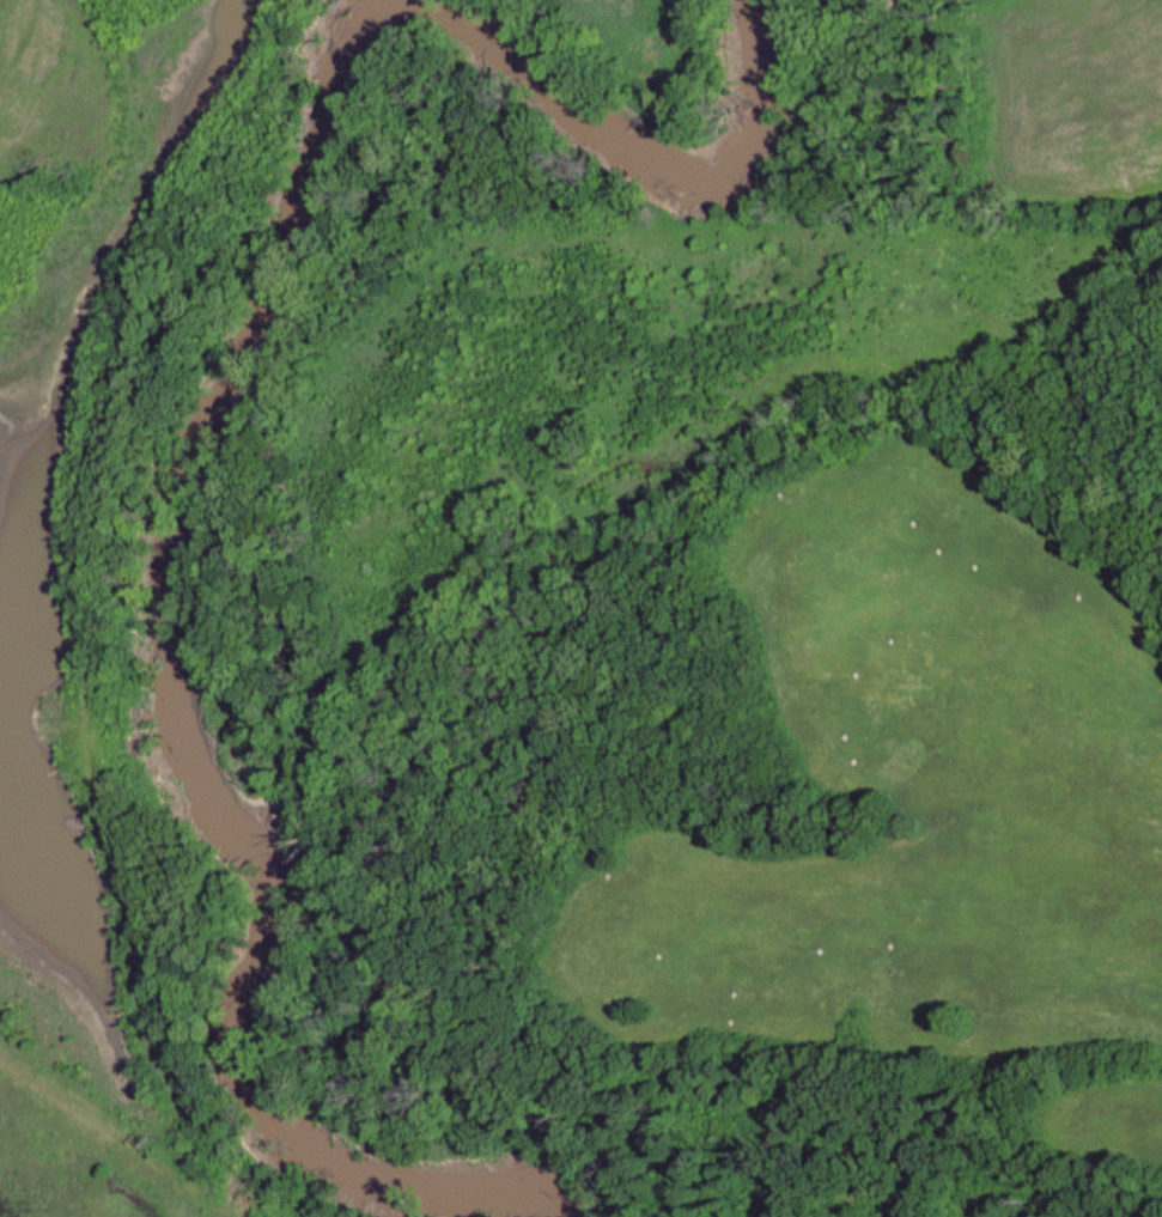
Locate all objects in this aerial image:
power tower: (150, 1146)

